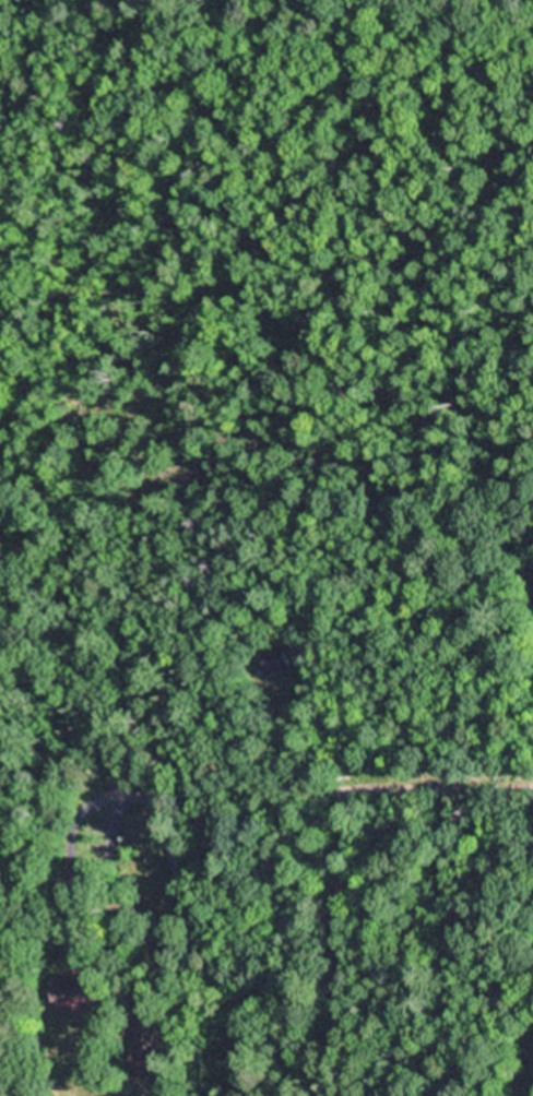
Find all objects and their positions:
building: (532, 579)
building: (275, 662)
road: (316, 786)
building: (71, 989)

